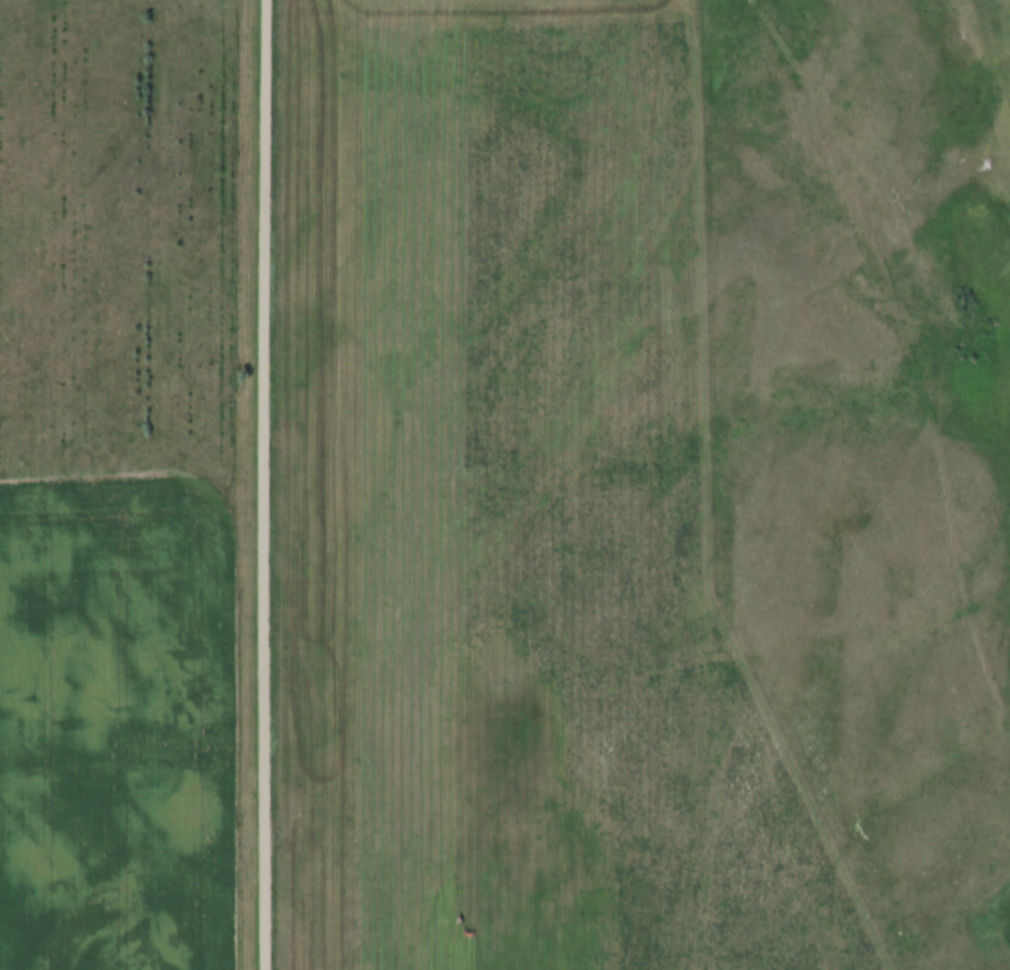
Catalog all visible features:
road: (265, 484)

